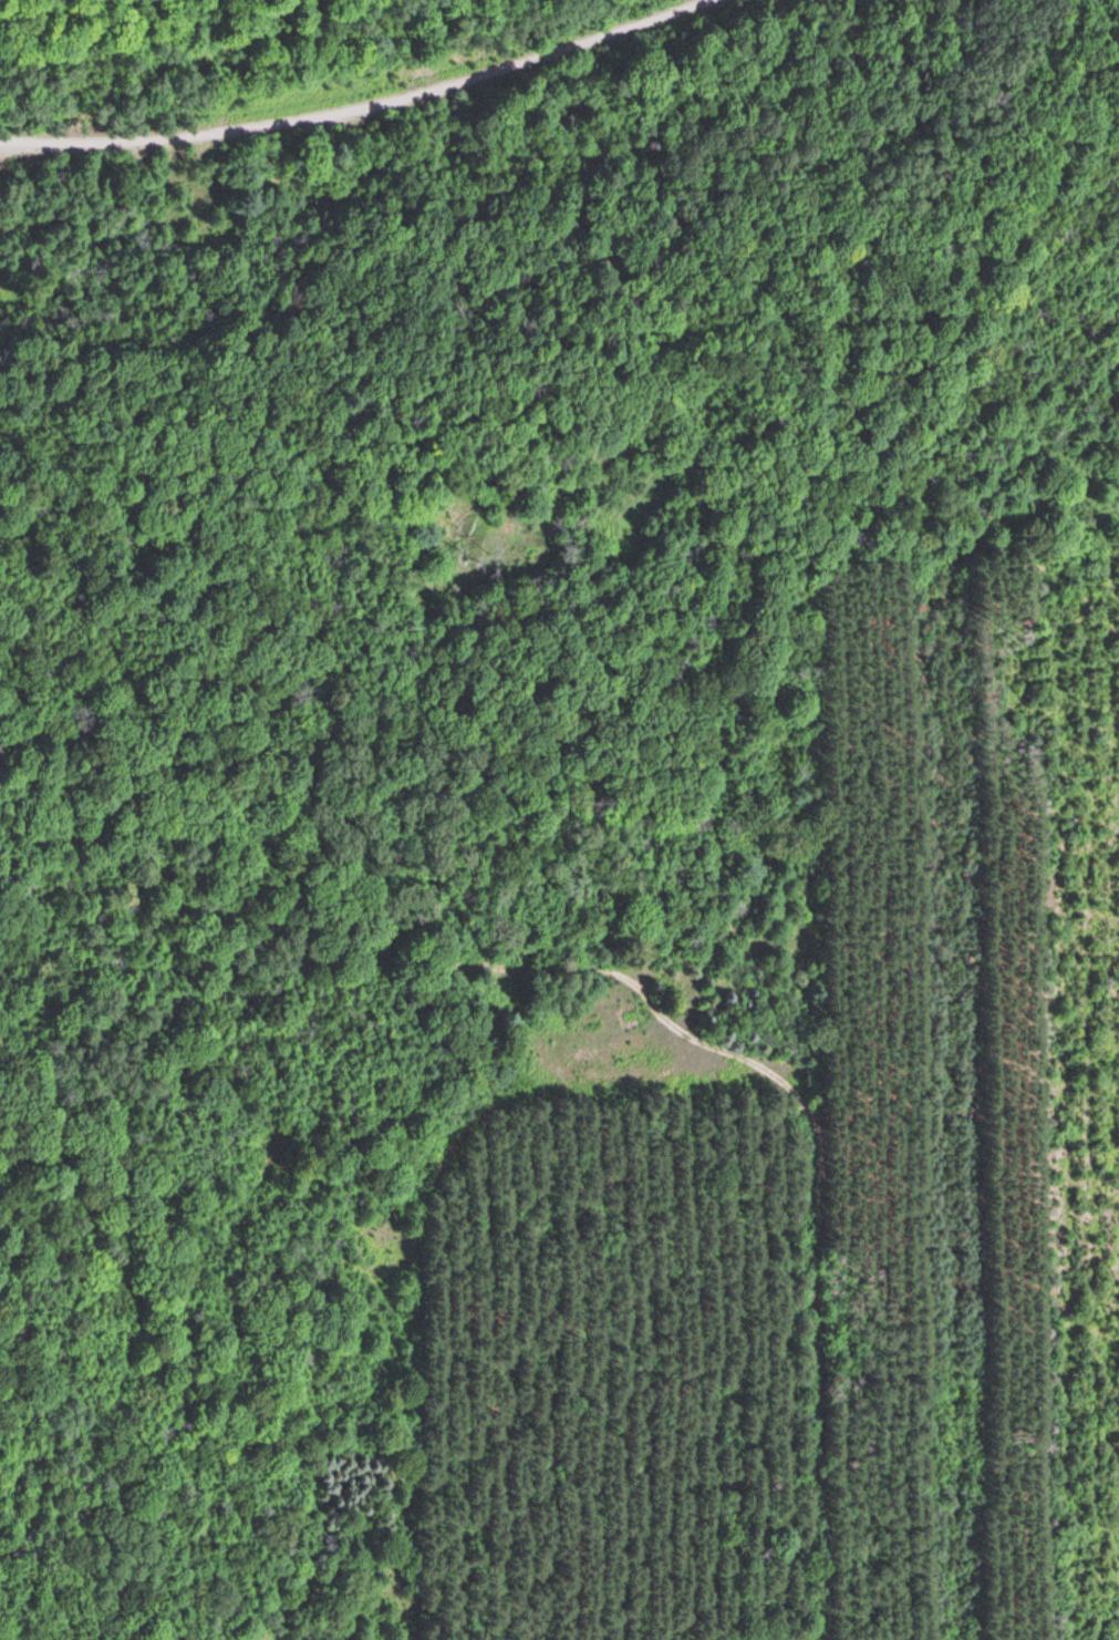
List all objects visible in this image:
road: (338, 89)
road: (431, 959)
road: (821, 1376)

